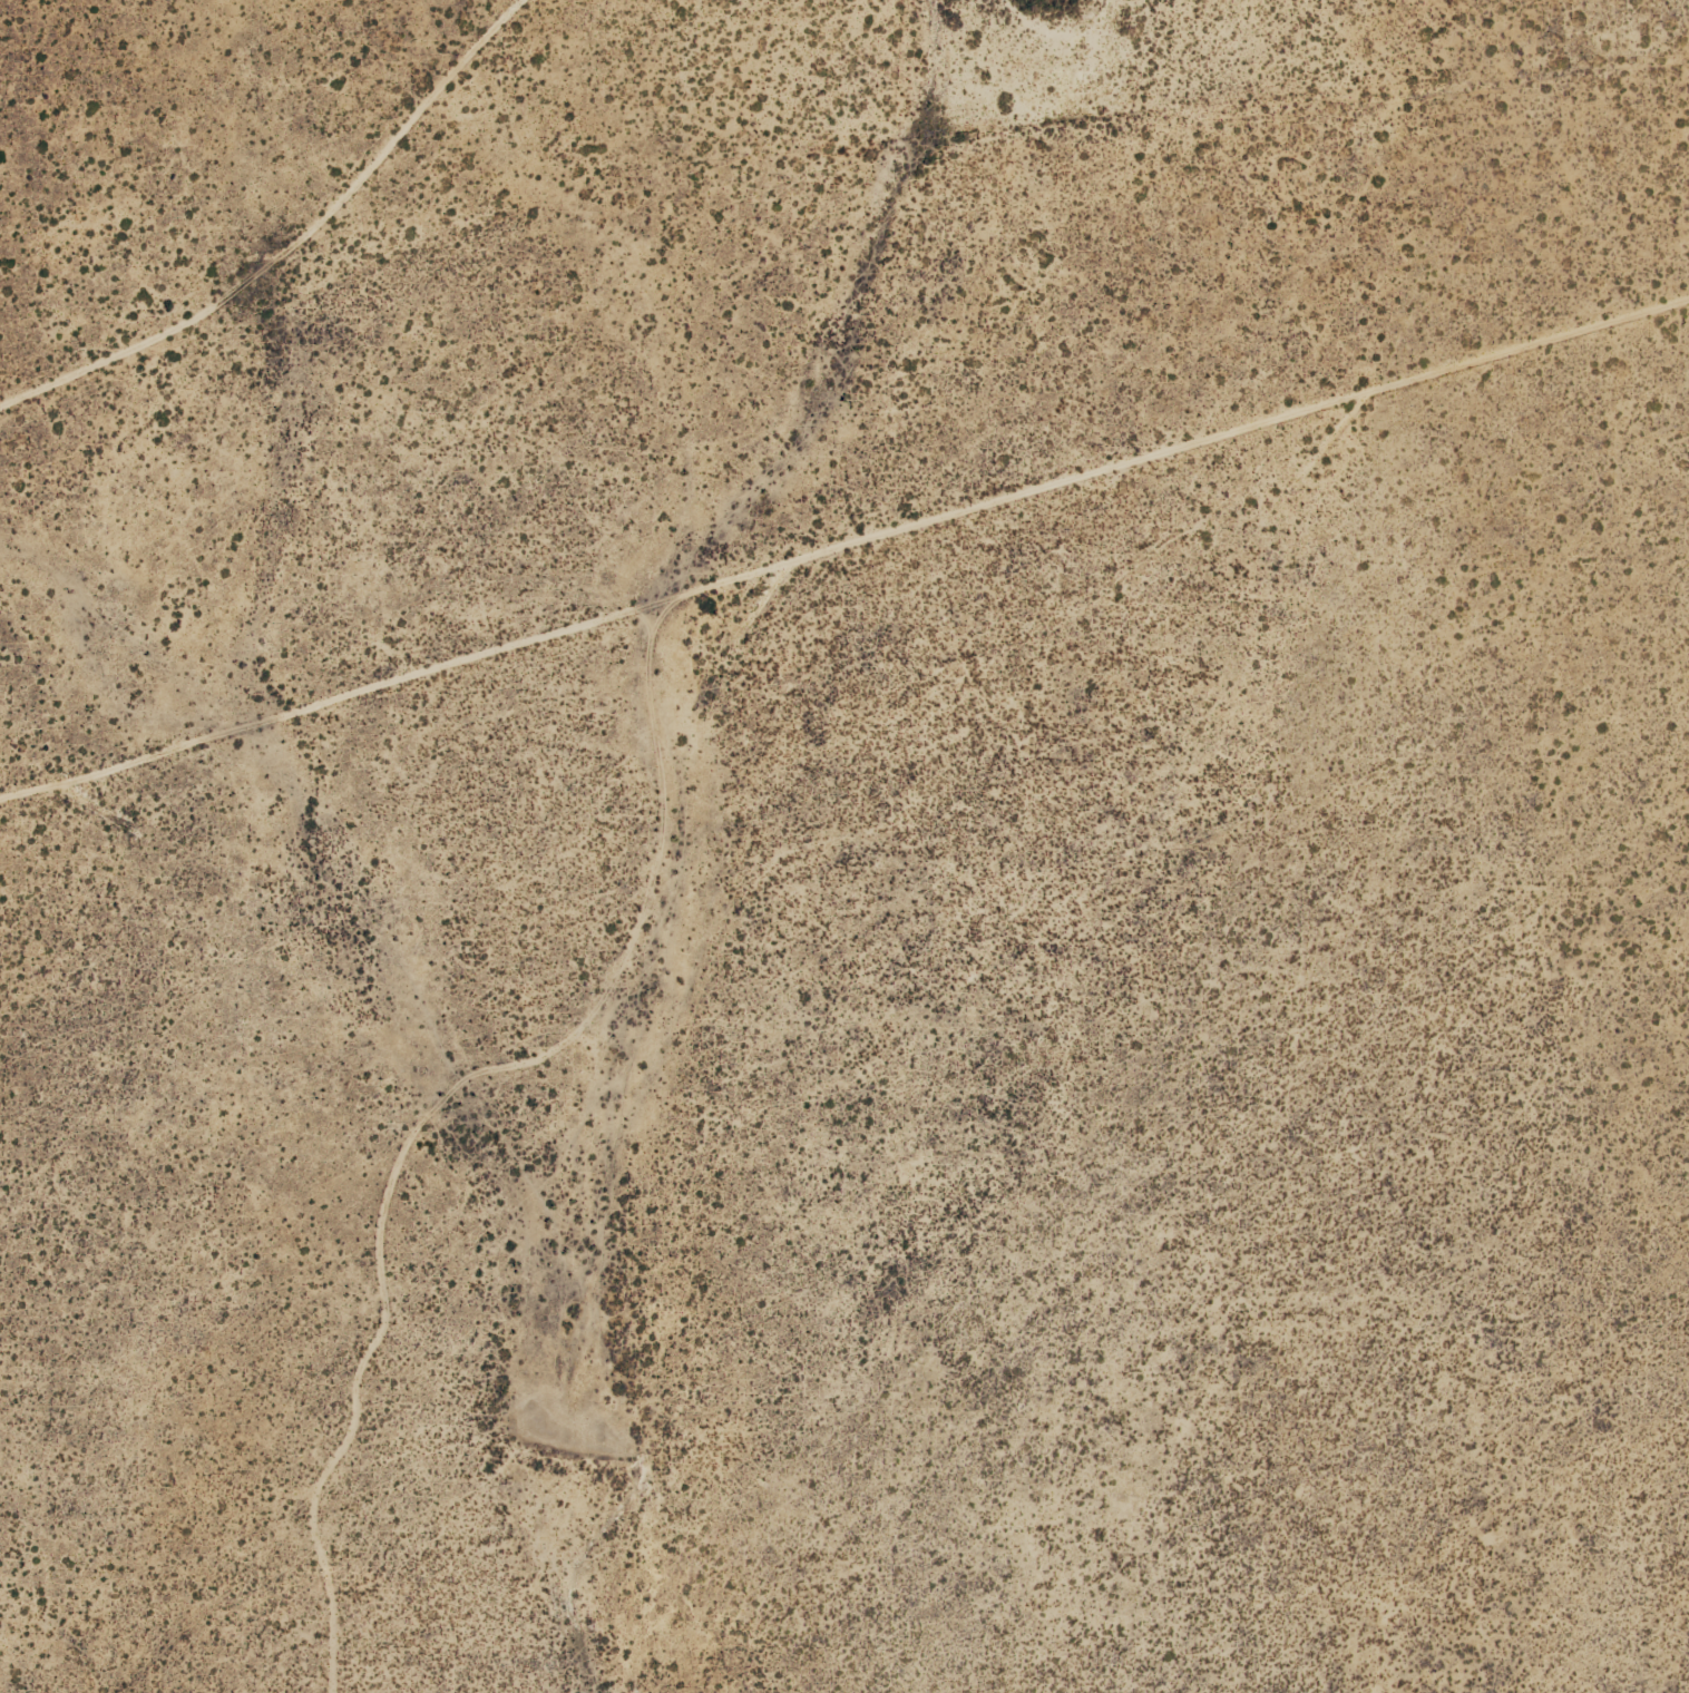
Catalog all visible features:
road: (283, 241)

